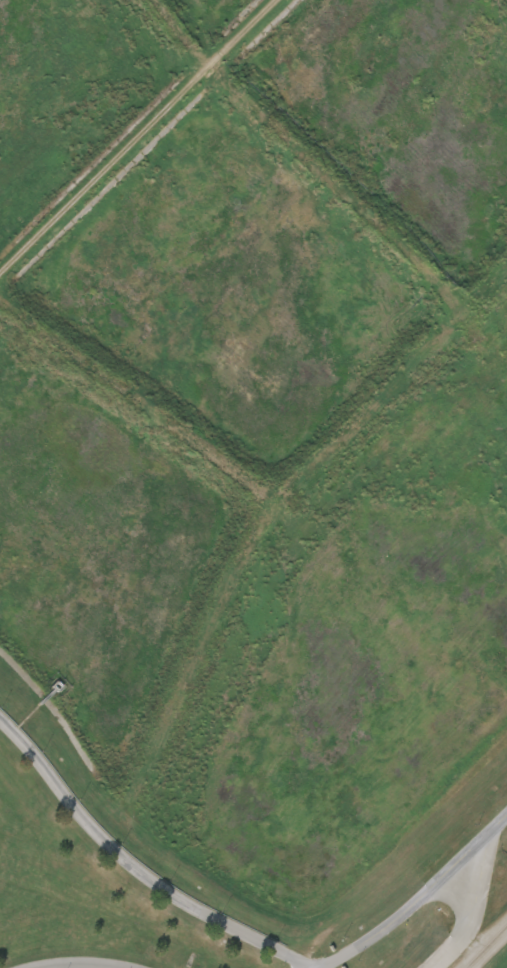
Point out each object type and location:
wastewater plant: (253, 484)
road: (134, 866)
road: (427, 906)
road: (464, 921)
road: (485, 948)
road: (88, 962)

